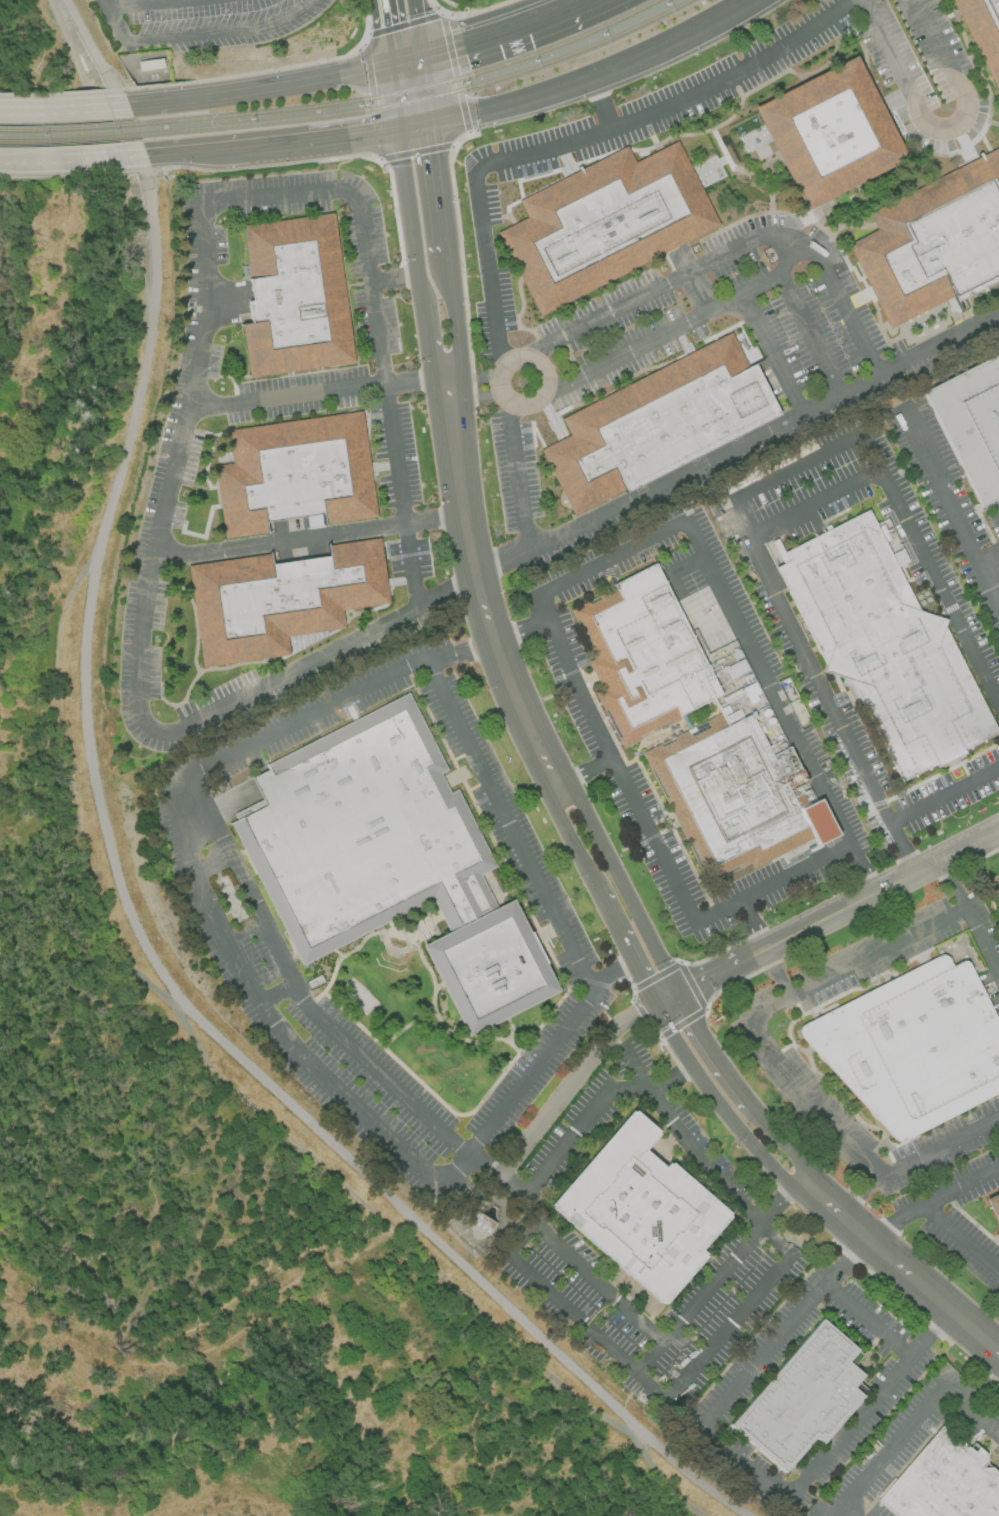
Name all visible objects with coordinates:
road: (146, 4)
parking lot: (205, 21)
road: (418, 28)
road: (506, 31)
road: (385, 32)
building: (982, 32)
road: (198, 34)
road: (931, 39)
road: (892, 46)
traffic signals: (423, 57)
road: (406, 61)
traffic signals: (390, 65)
road: (236, 75)
road: (598, 76)
road: (920, 87)
road: (259, 89)
road: (427, 89)
railway: (405, 90)
road: (61, 92)
road: (394, 96)
railway: (423, 98)
road: (668, 103)
road: (601, 104)
road: (64, 109)
traffic signals: (432, 122)
road: (416, 125)
railway: (67, 128)
traffic signals: (400, 128)
building: (828, 134)
railway: (69, 139)
road: (309, 139)
road: (182, 152)
road: (89, 159)
road: (16, 163)
road: (440, 188)
road: (278, 193)
road: (412, 218)
building: (603, 222)
road: (749, 240)
building: (934, 241)
road: (486, 268)
river: (101, 278)
road: (761, 281)
road: (371, 288)
road: (698, 292)
building: (295, 296)
road: (846, 310)
road: (608, 313)
road: (456, 319)
road: (811, 332)
road: (939, 343)
parking lot: (682, 344)
road: (433, 347)
road: (627, 352)
road: (774, 352)
road: (473, 377)
road: (418, 383)
road: (547, 383)
road: (843, 393)
road: (288, 394)
road: (474, 395)
road: (451, 400)
building: (658, 423)
building: (972, 423)
road: (794, 465)
road: (174, 467)
building: (295, 474)
road: (670, 479)
road: (400, 496)
road: (814, 503)
road: (520, 507)
road: (951, 509)
road: (309, 537)
road: (611, 557)
building: (898, 557)
road: (931, 564)
road: (989, 564)
building: (280, 599)
road: (484, 606)
road: (520, 626)
building: (884, 646)
road: (461, 647)
building: (642, 656)
road: (807, 661)
building: (737, 669)
road: (283, 676)
road: (769, 681)
road: (612, 761)
road: (585, 773)
road: (944, 797)
building: (733, 798)
road: (509, 823)
road: (572, 842)
road: (902, 848)
building: (389, 861)
road: (864, 867)
road: (119, 878)
road: (773, 882)
road: (952, 884)
road: (621, 886)
road: (880, 890)
road: (615, 925)
road: (750, 925)
road: (982, 940)
road: (875, 951)
road: (754, 954)
road: (612, 967)
road: (774, 972)
road: (713, 976)
road: (644, 980)
road: (296, 989)
road: (254, 993)
road: (277, 994)
traffic signals: (679, 994)
road: (668, 999)
traffic signals: (657, 1005)
road: (627, 1019)
building: (913, 1045)
road: (713, 1052)
road: (614, 1054)
road: (800, 1084)
road: (720, 1104)
road: (533, 1128)
road: (565, 1136)
road: (783, 1142)
road: (688, 1143)
road: (941, 1147)
road: (957, 1188)
road: (863, 1194)
road: (781, 1195)
building: (994, 1207)
building: (642, 1209)
building: (481, 1222)
road: (893, 1224)
road: (957, 1239)
road: (857, 1252)
road: (900, 1265)
road: (584, 1273)
road: (713, 1279)
road: (746, 1310)
road: (574, 1322)
road: (941, 1323)
road: (866, 1324)
road: (772, 1345)
road: (648, 1360)
river: (219, 1387)
building: (802, 1399)
road: (975, 1402)
road: (861, 1415)
road: (892, 1444)
road: (743, 1465)
building: (944, 1482)
road: (840, 1514)

